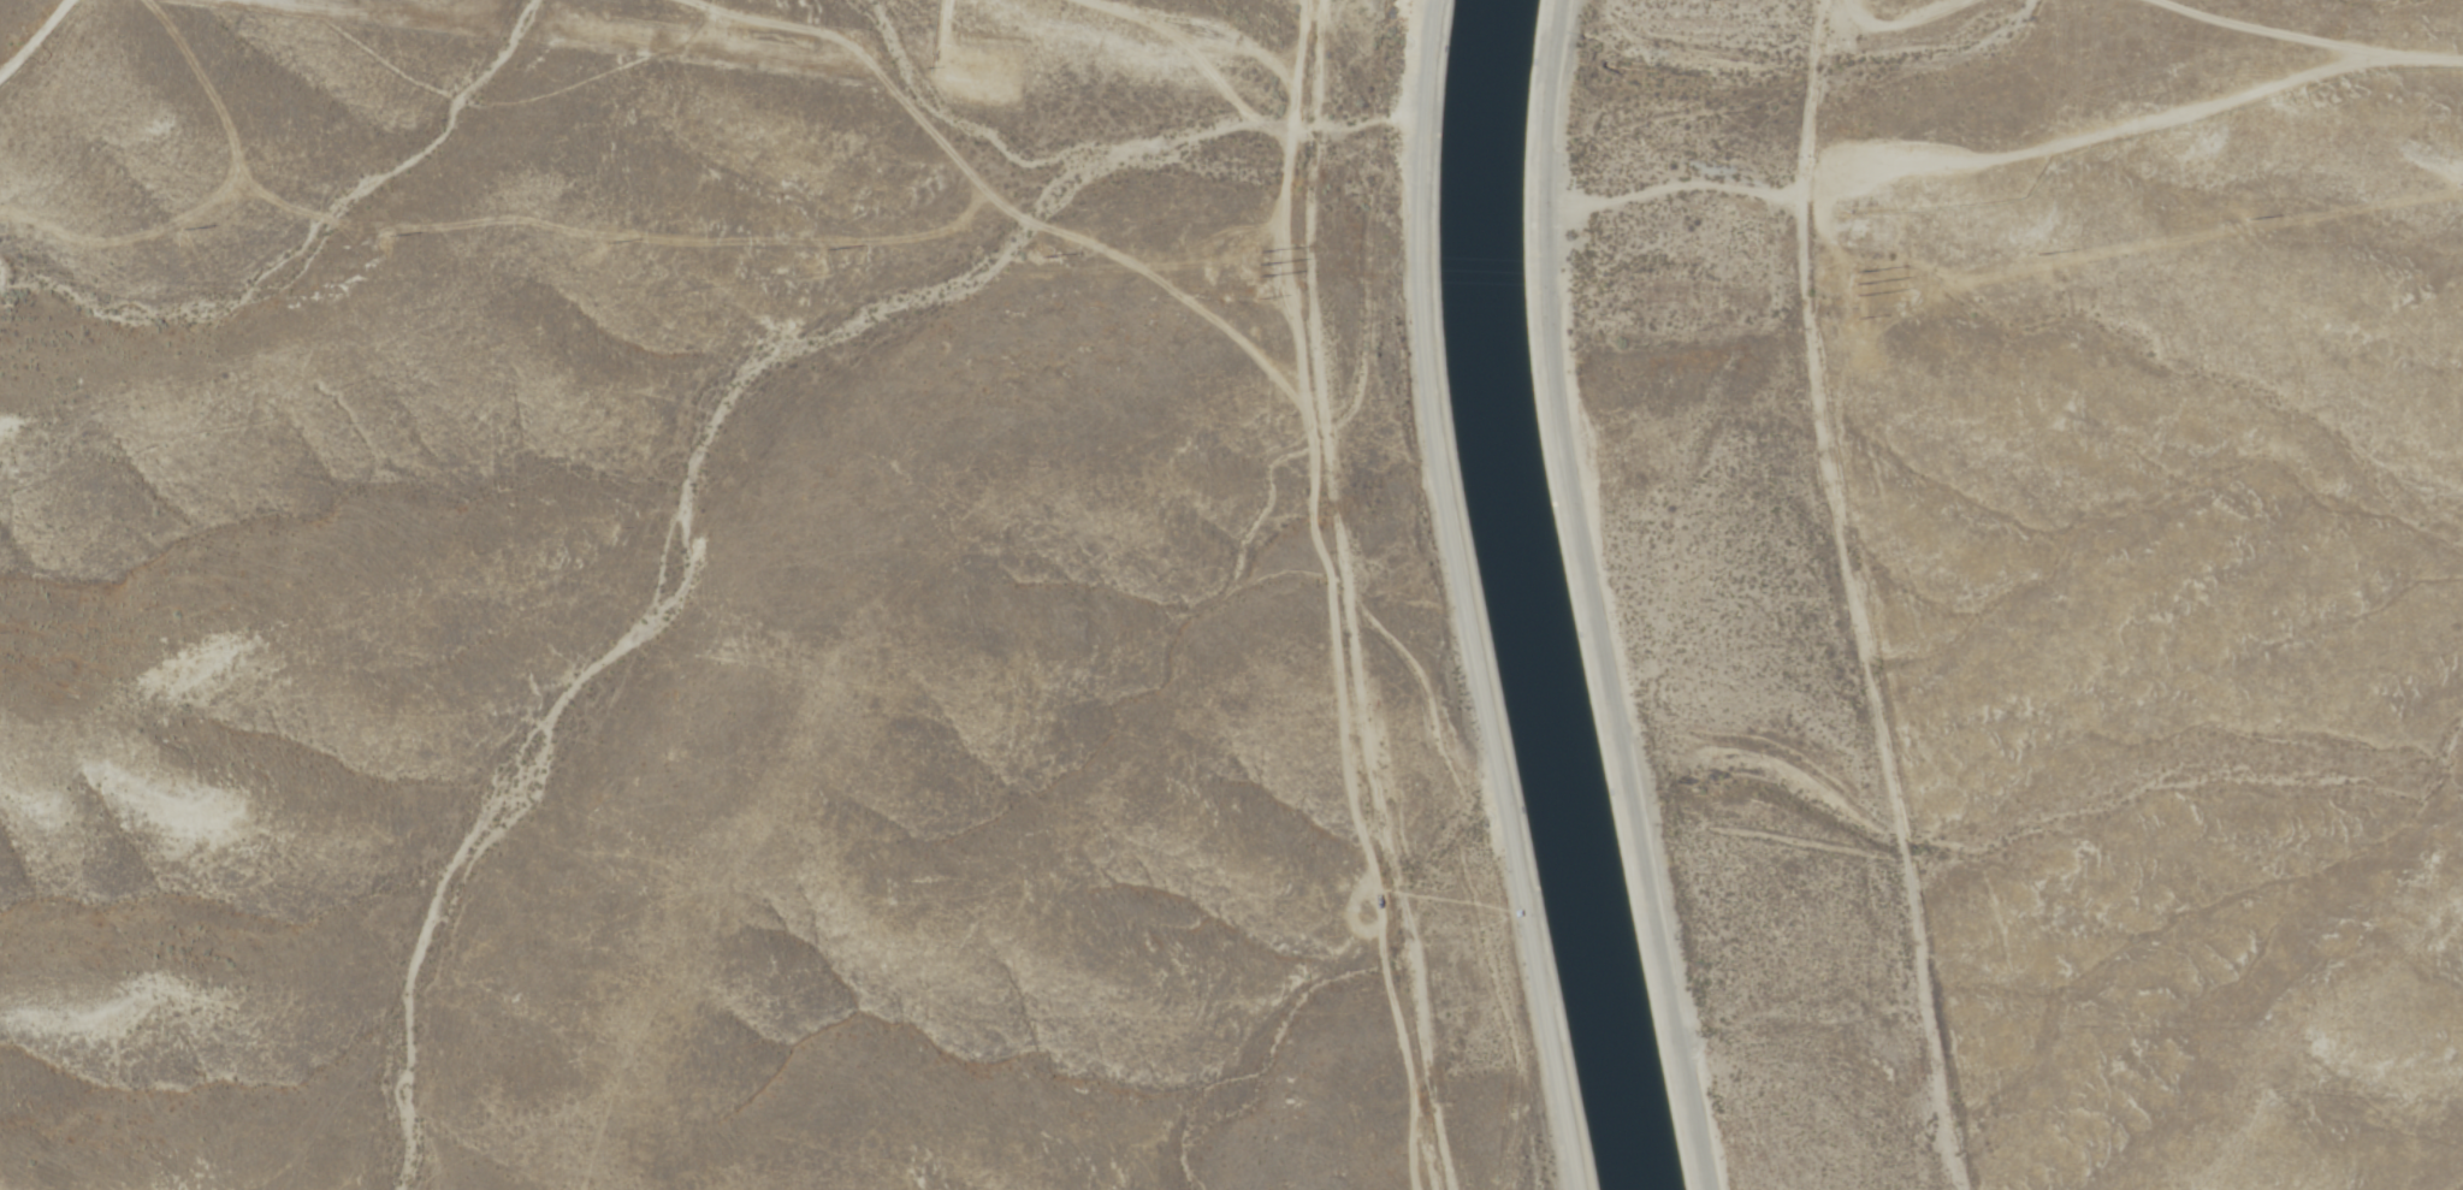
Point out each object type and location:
road: (64, 65)
road: (2132, 126)
road: (1327, 596)
road: (1593, 597)
road: (1463, 598)
road: (1870, 694)

